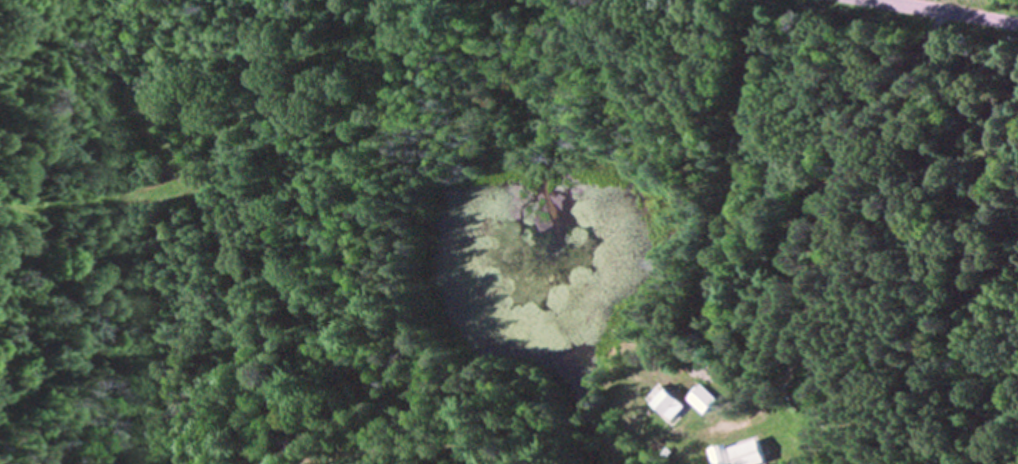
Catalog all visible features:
road: (941, 13)
road: (824, 208)
building: (699, 400)
building: (662, 403)
building: (743, 453)
building: (713, 456)

